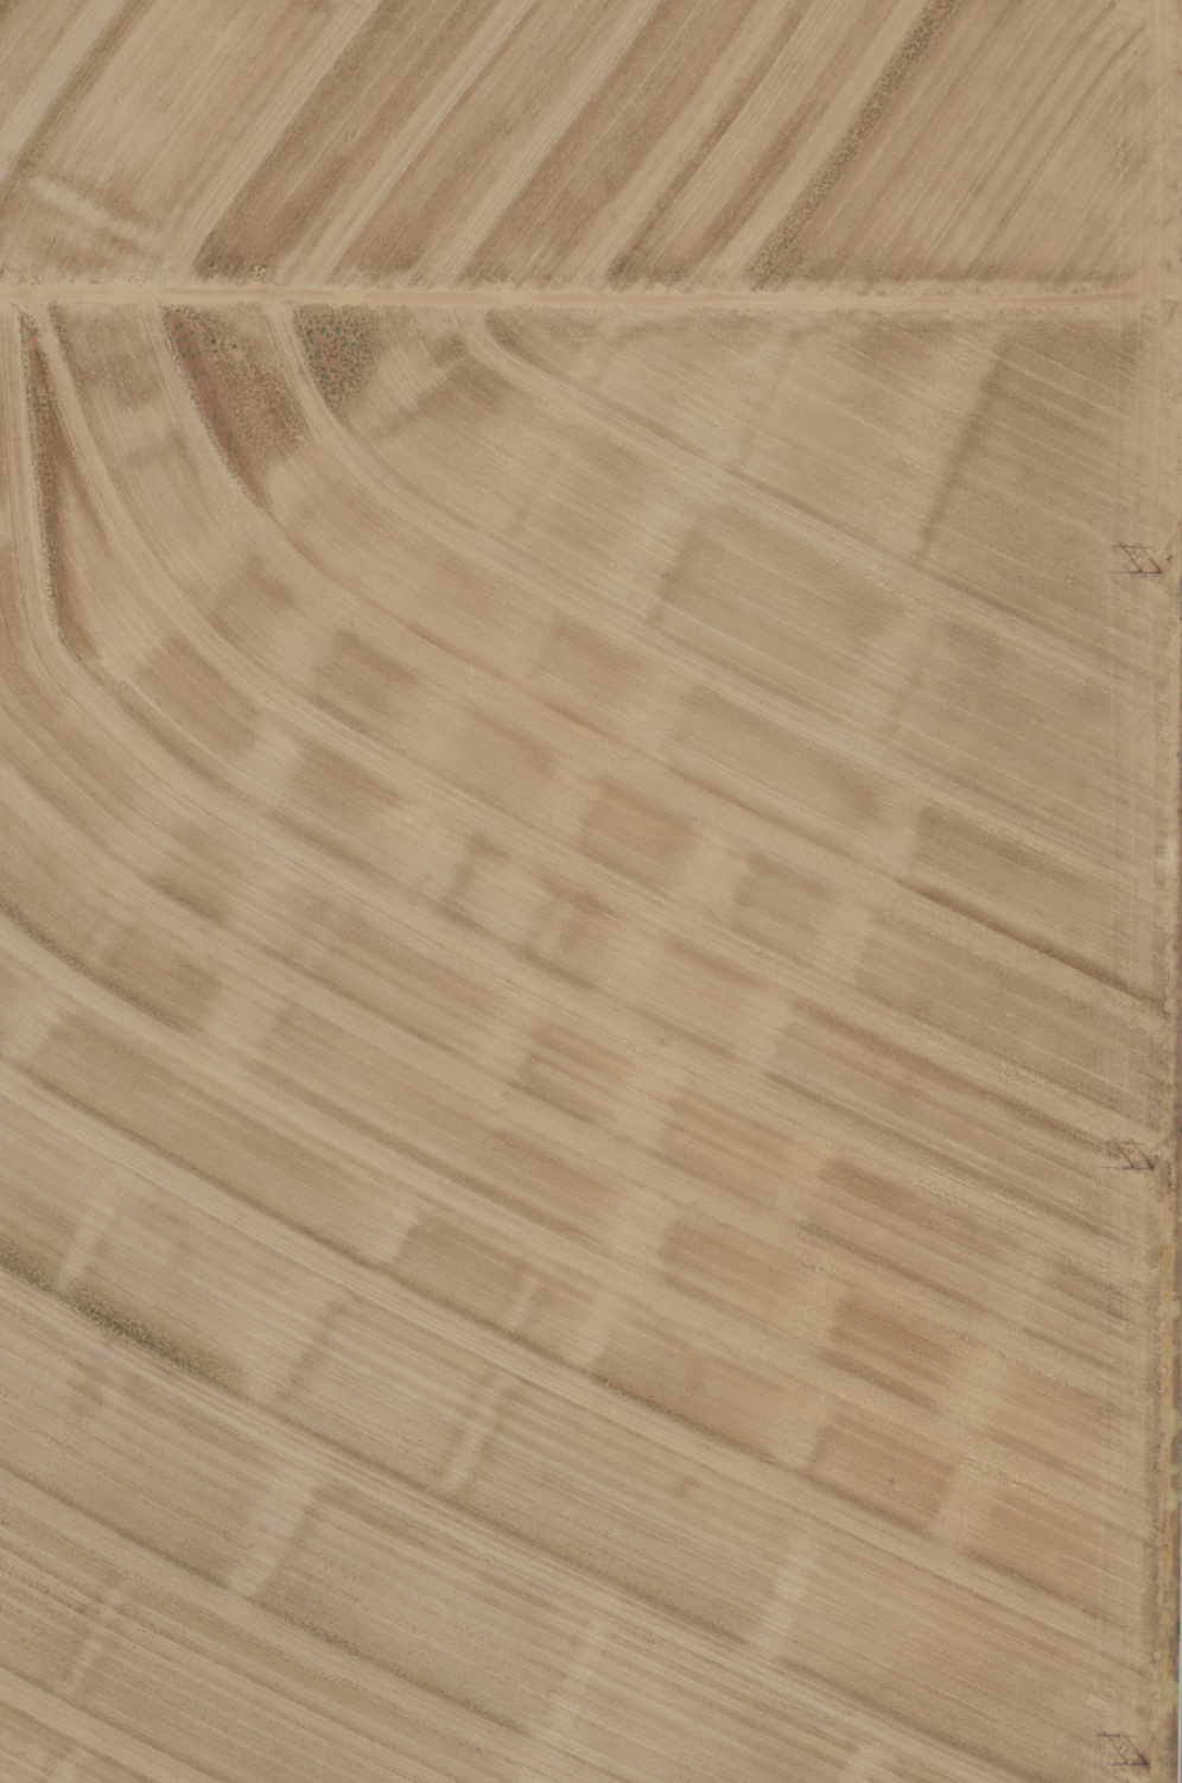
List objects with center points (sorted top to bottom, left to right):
road: (591, 317)
power tower: (1154, 570)
power tower: (1146, 1165)
power tower: (1138, 1760)

